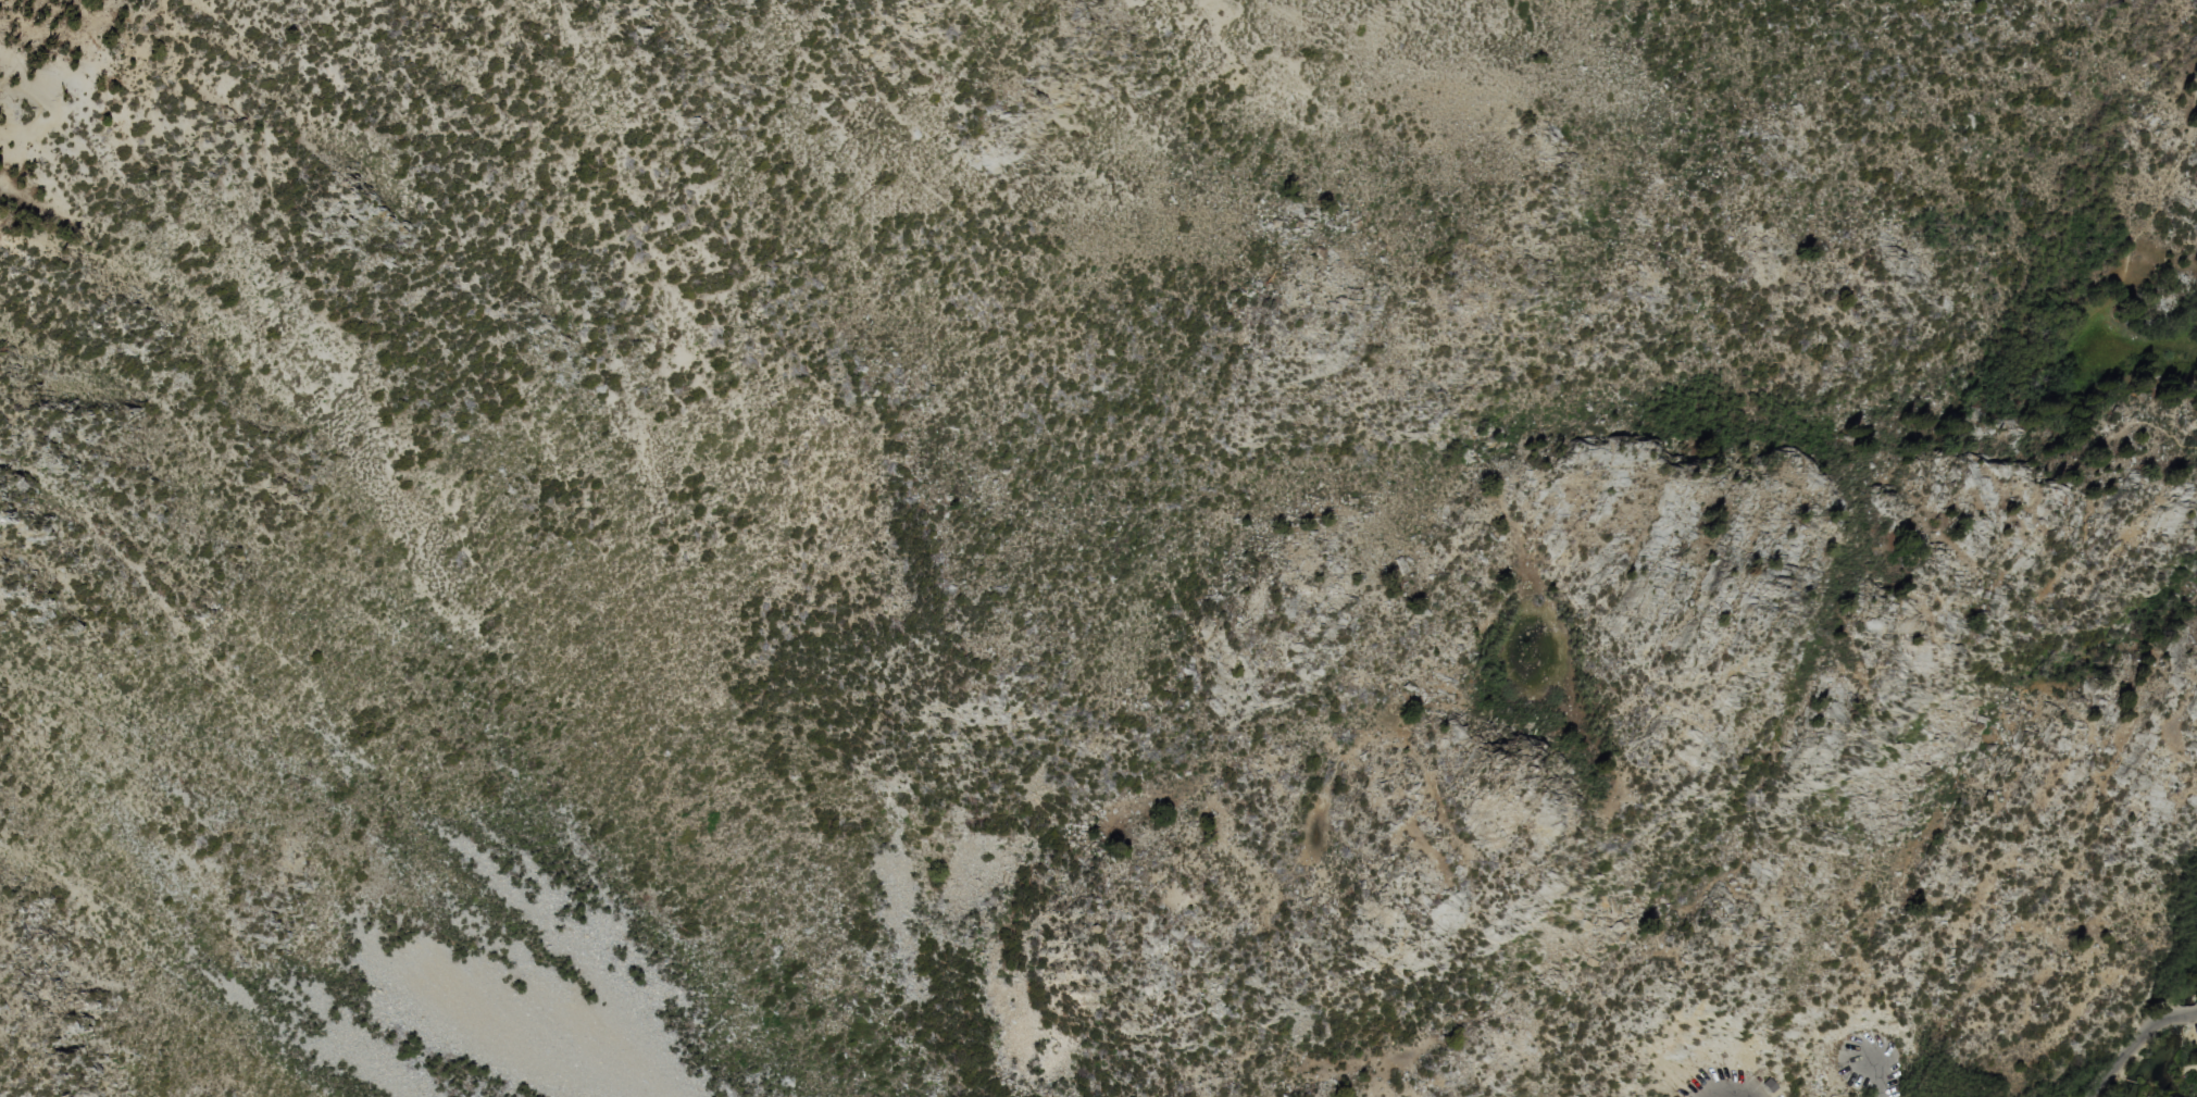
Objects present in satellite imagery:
road: (2092, 320)
road: (2180, 1018)
road: (2124, 1055)
parking lot: (1868, 1062)
road: (1873, 1082)
parking lot: (1714, 1083)
building: (1772, 1086)
road: (1705, 1095)

